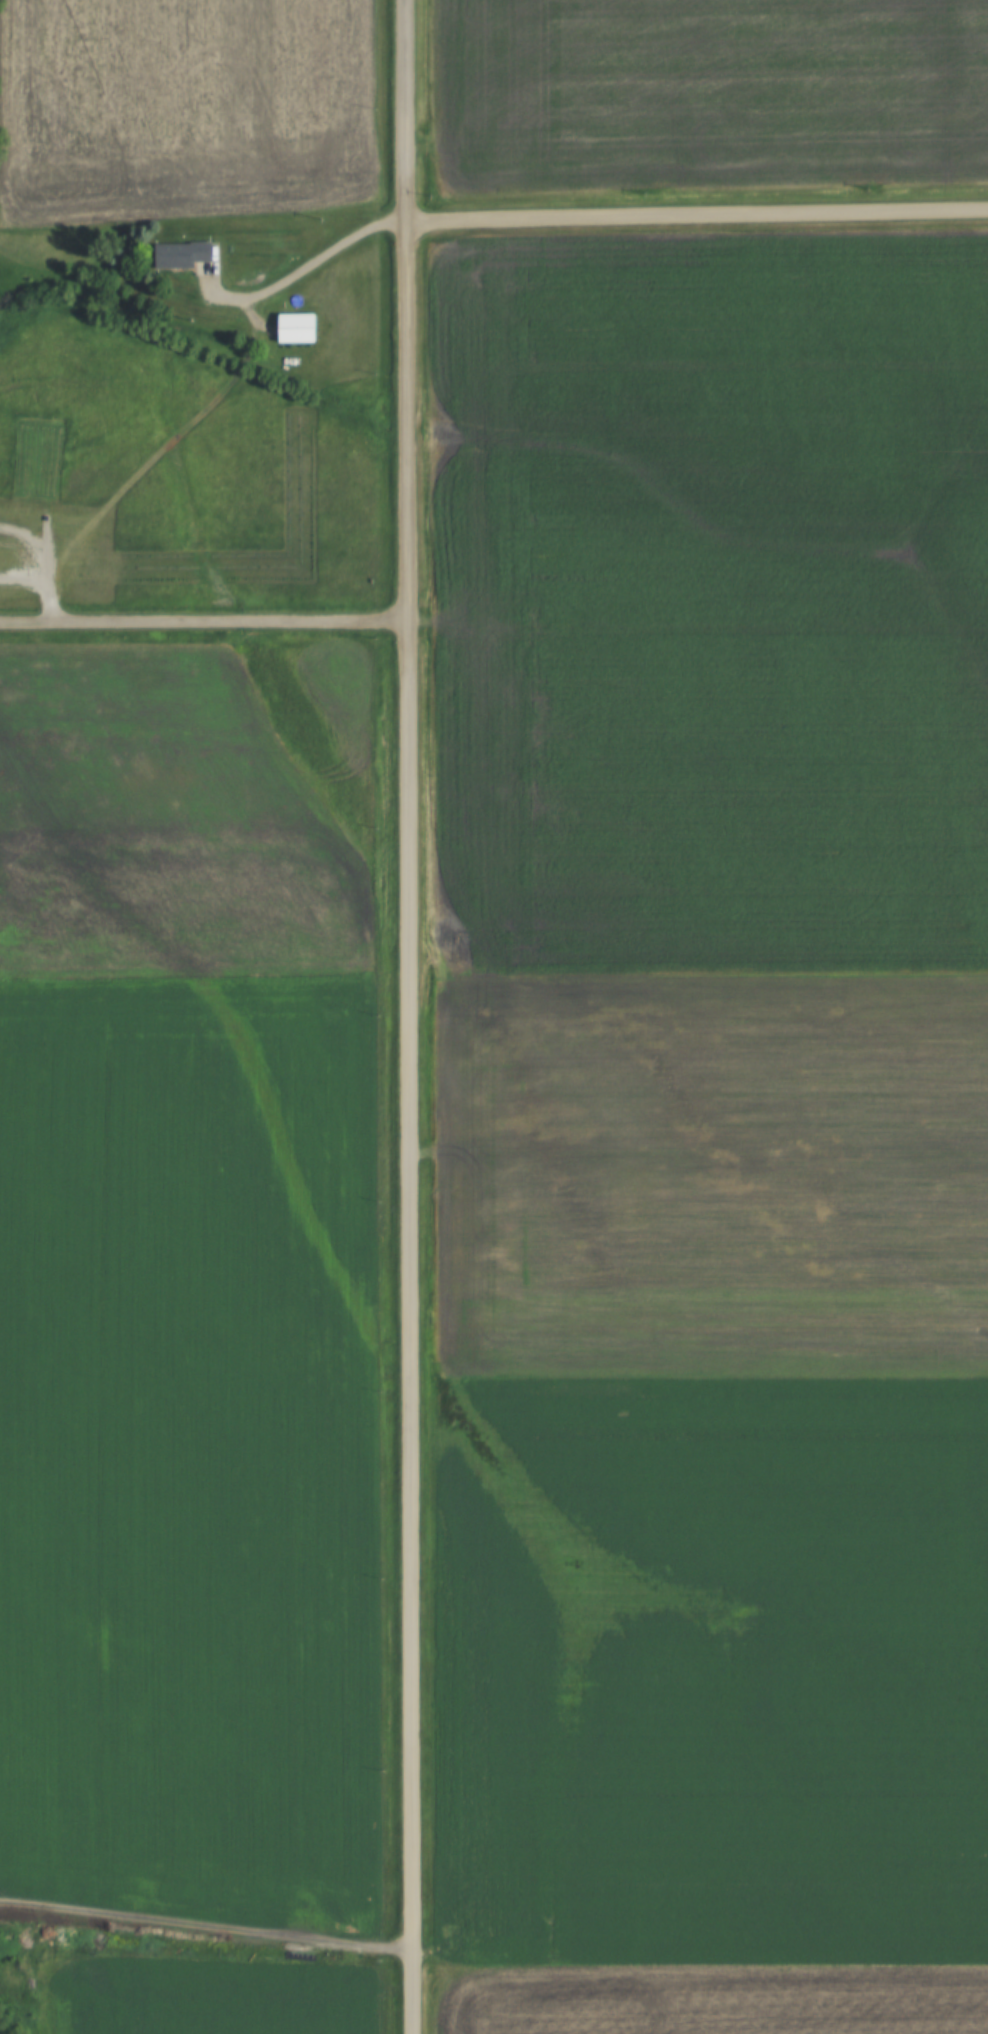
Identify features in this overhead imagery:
crop: (708, 93)
crop: (184, 108)
road: (699, 211)
building: (176, 255)
road: (311, 265)
building: (292, 328)
road: (35, 543)
road: (45, 580)
crop: (711, 601)
road: (206, 618)
crop: (187, 812)
road: (413, 1016)
crop: (713, 1173)
crop: (190, 1454)
crop: (712, 1669)
crop: (210, 1999)
crop: (713, 1999)

